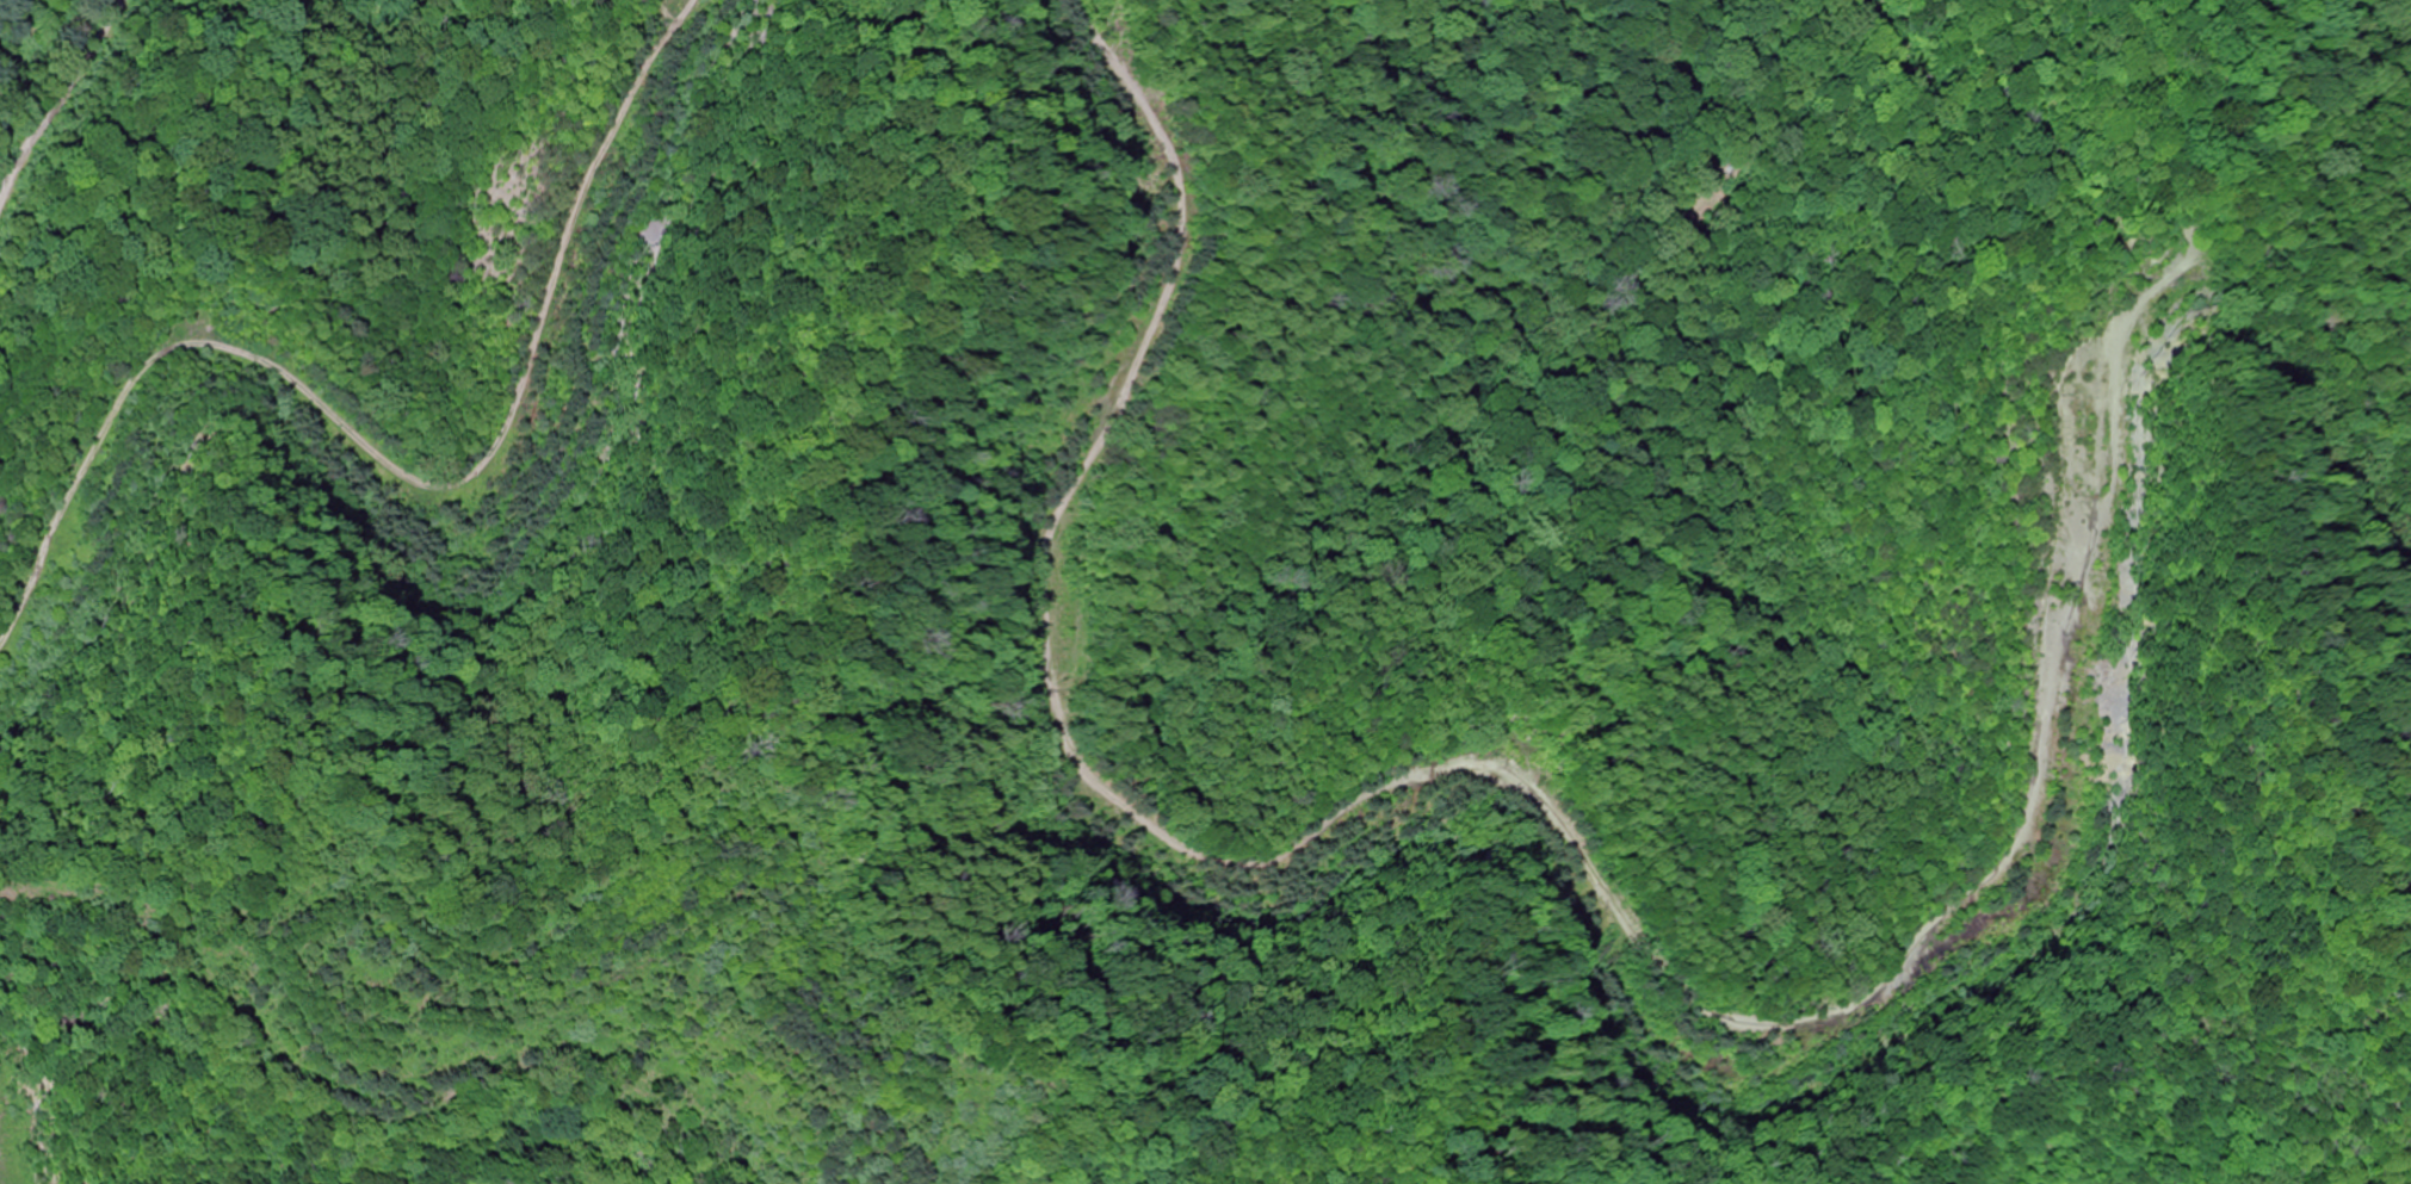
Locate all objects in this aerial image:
road: (56, 92)
road: (382, 435)
road: (1642, 956)

